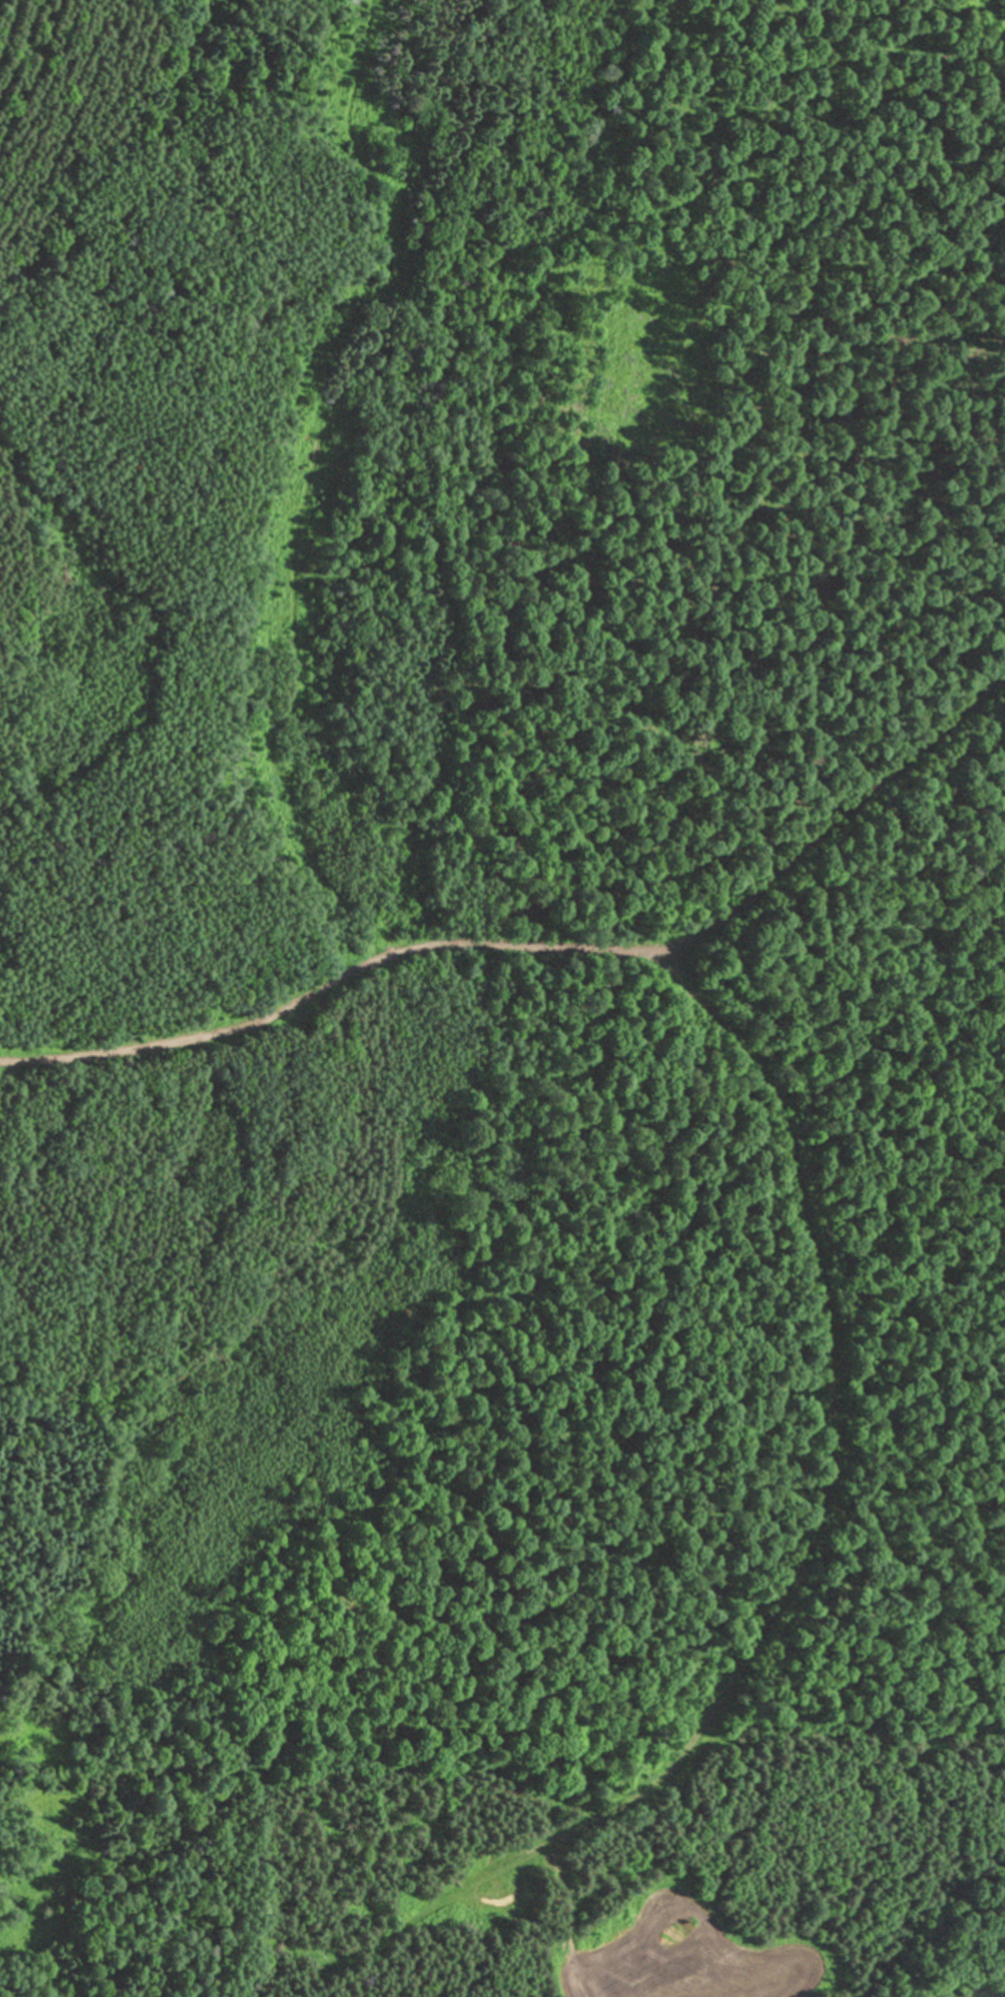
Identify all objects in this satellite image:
road: (543, 944)

